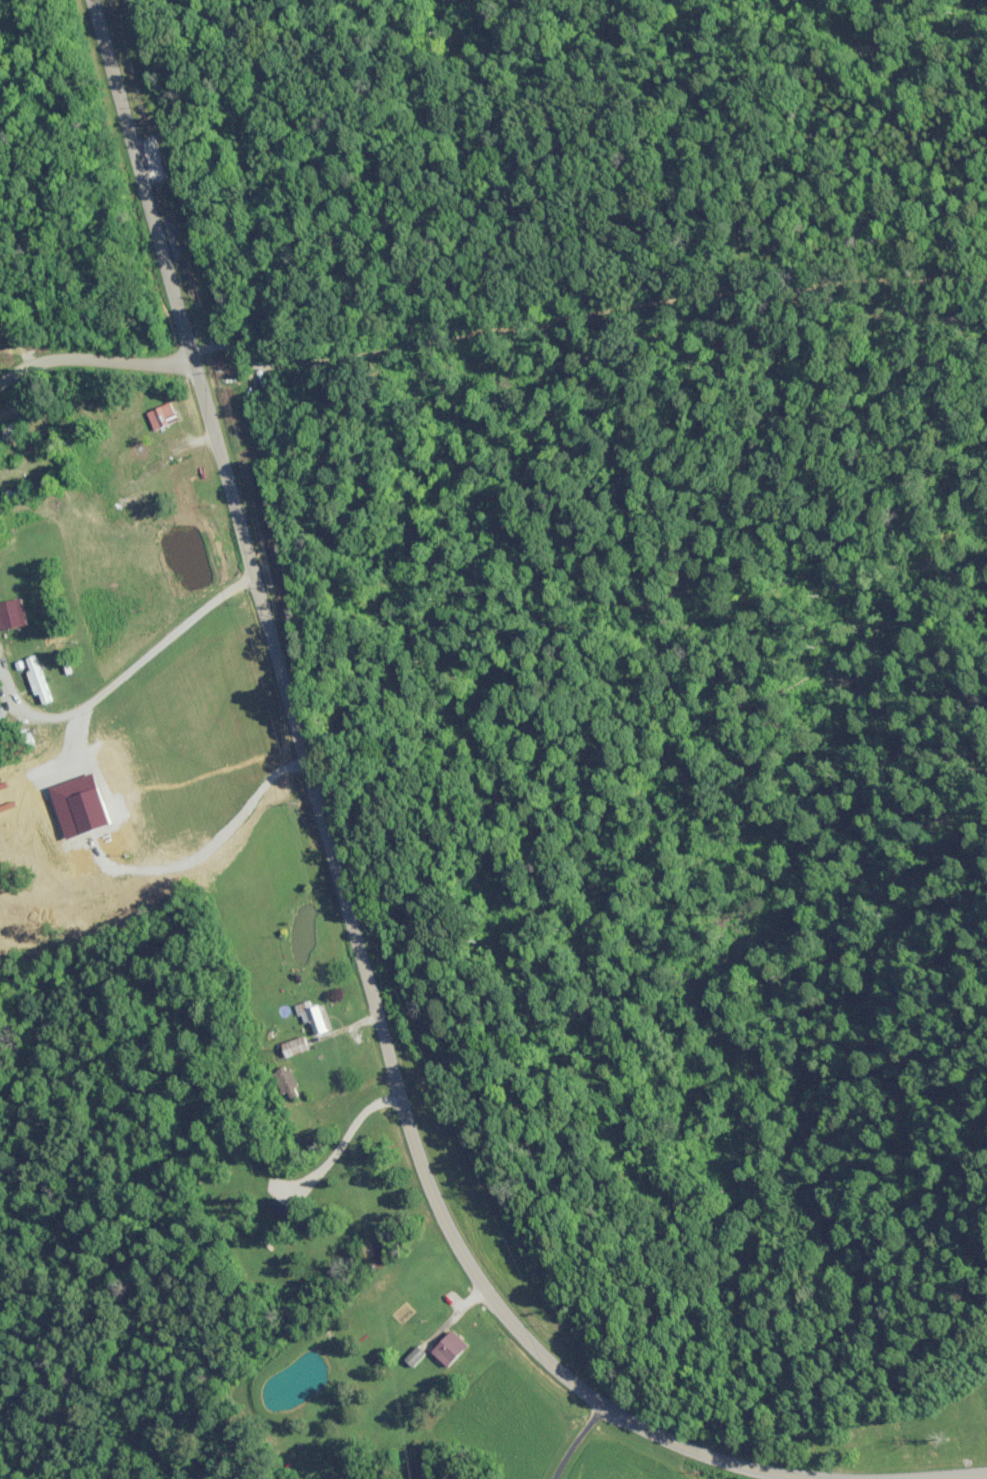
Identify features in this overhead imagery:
road: (95, 354)
building: (165, 416)
building: (19, 493)
building: (13, 614)
building: (40, 679)
building: (124, 796)
road: (328, 834)
building: (151, 885)
building: (308, 1016)
building: (289, 1047)
building: (281, 1081)
building: (447, 1342)
road: (560, 1434)
road: (969, 1478)

